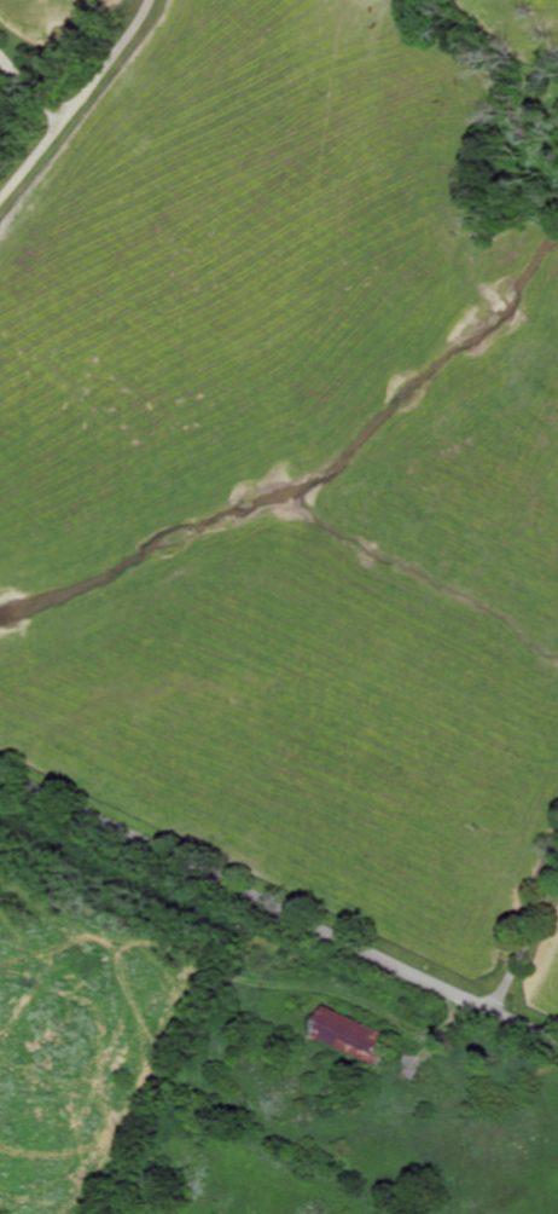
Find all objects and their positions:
road: (36, 82)
road: (77, 99)
road: (278, 902)
road: (528, 935)
building: (358, 1035)

